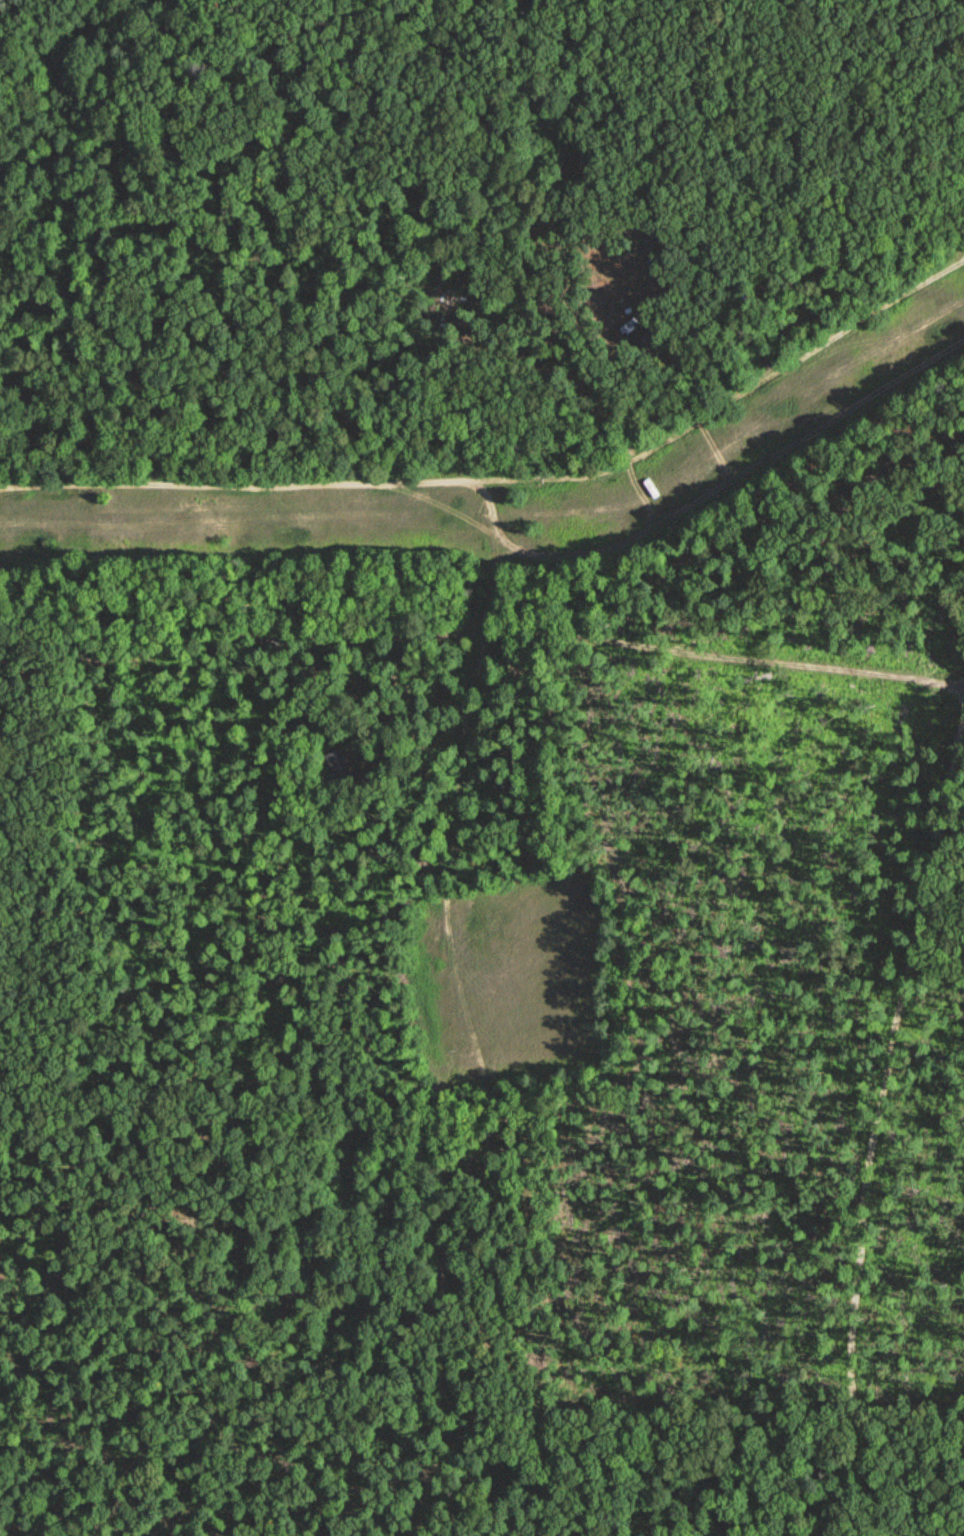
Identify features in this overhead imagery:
road: (511, 479)
road: (548, 515)
road: (507, 555)
road: (246, 635)
road: (719, 652)
building: (339, 764)
road: (448, 889)
road: (885, 1132)

